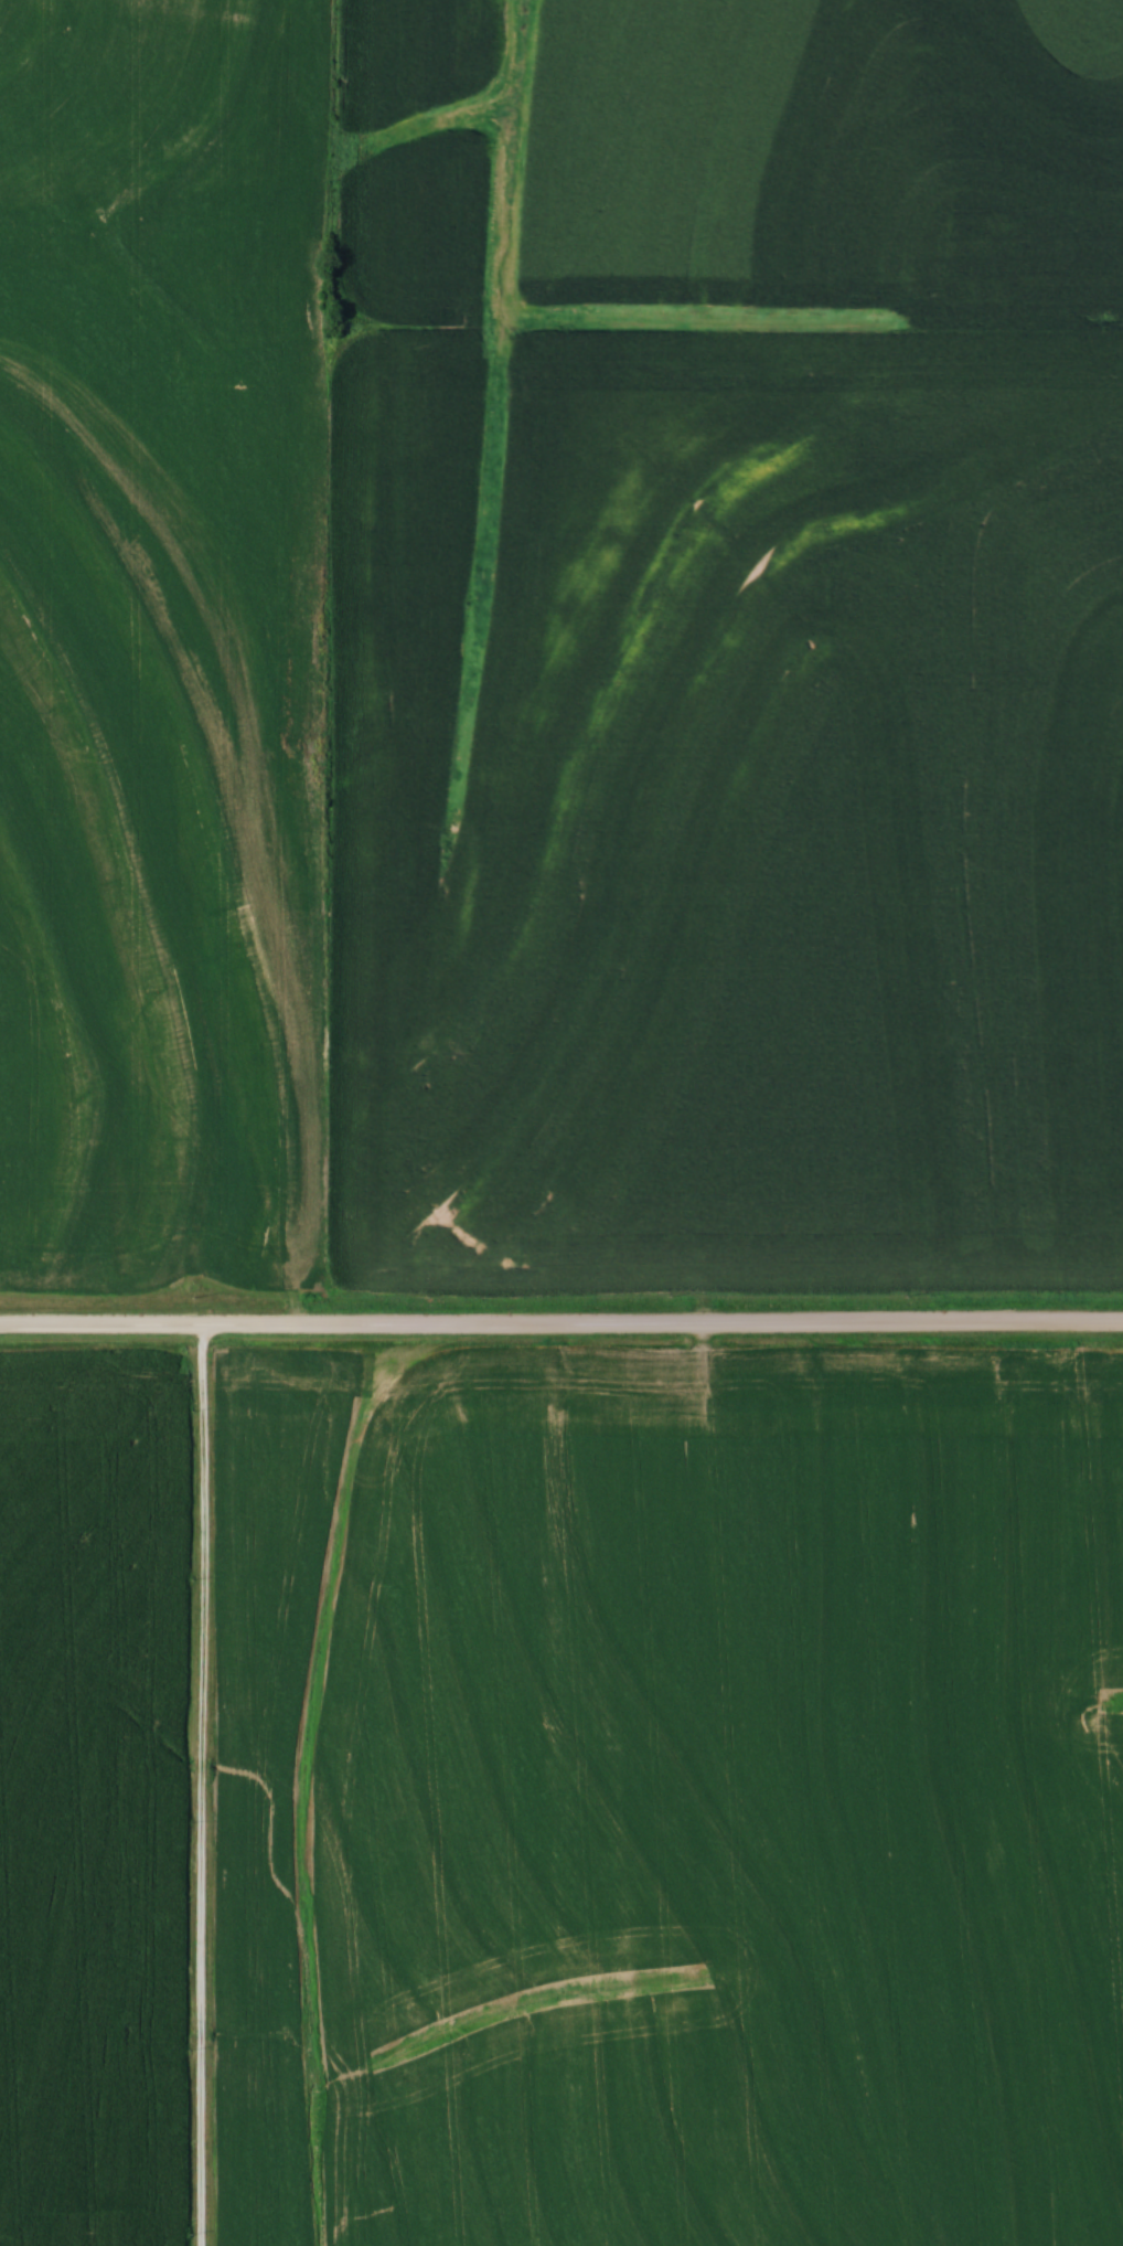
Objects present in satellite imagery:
road: (560, 1327)
road: (204, 1787)

